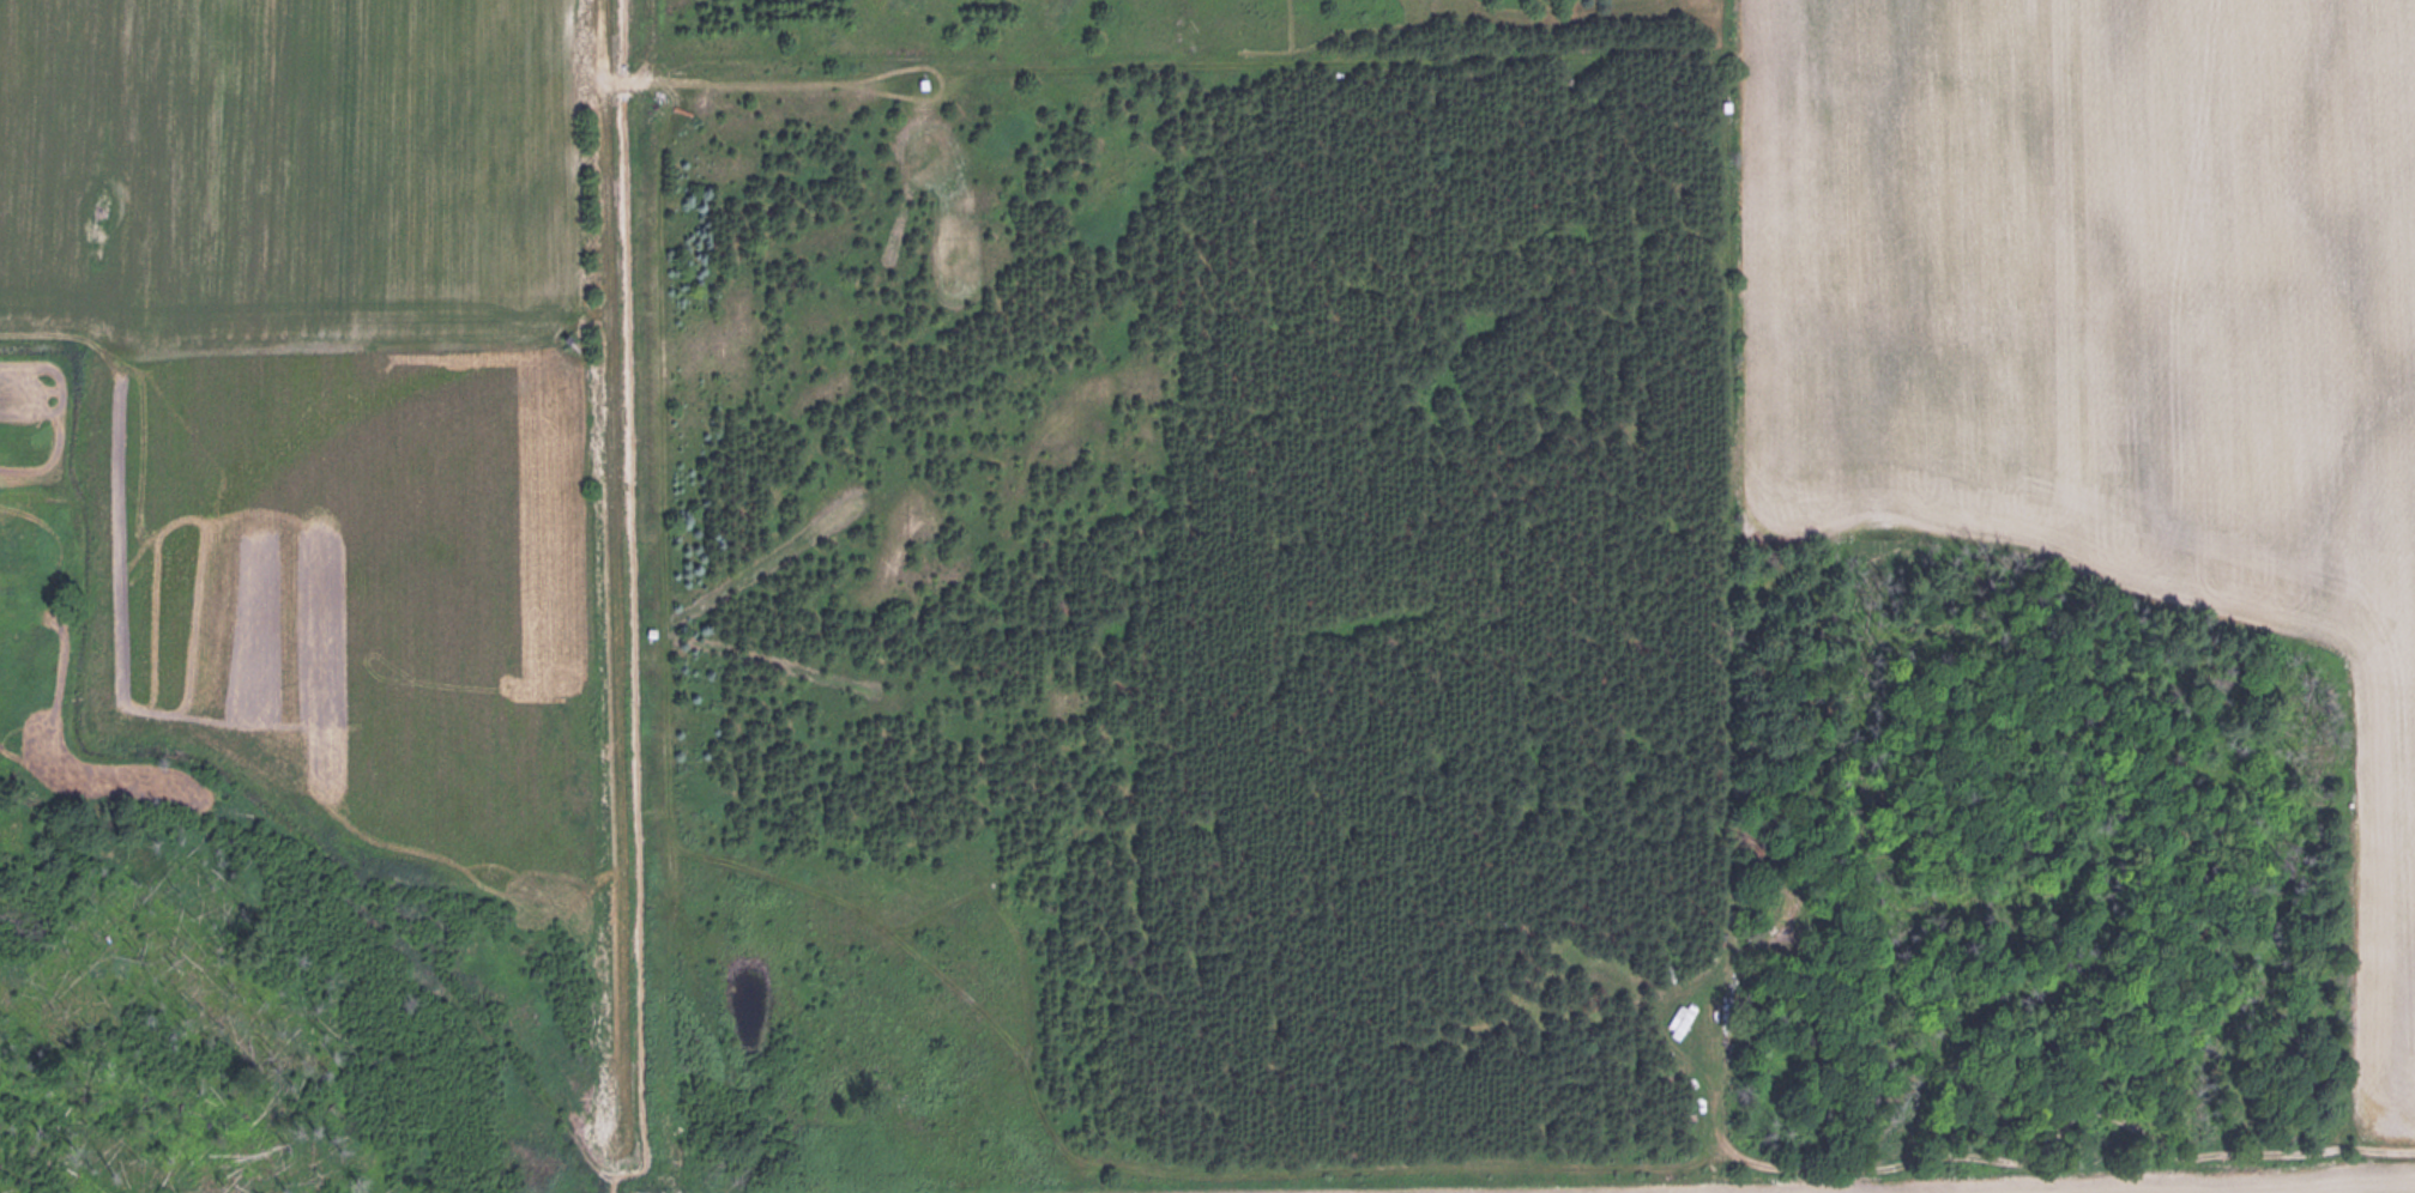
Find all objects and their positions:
road: (535, 61)
building: (1679, 1017)

